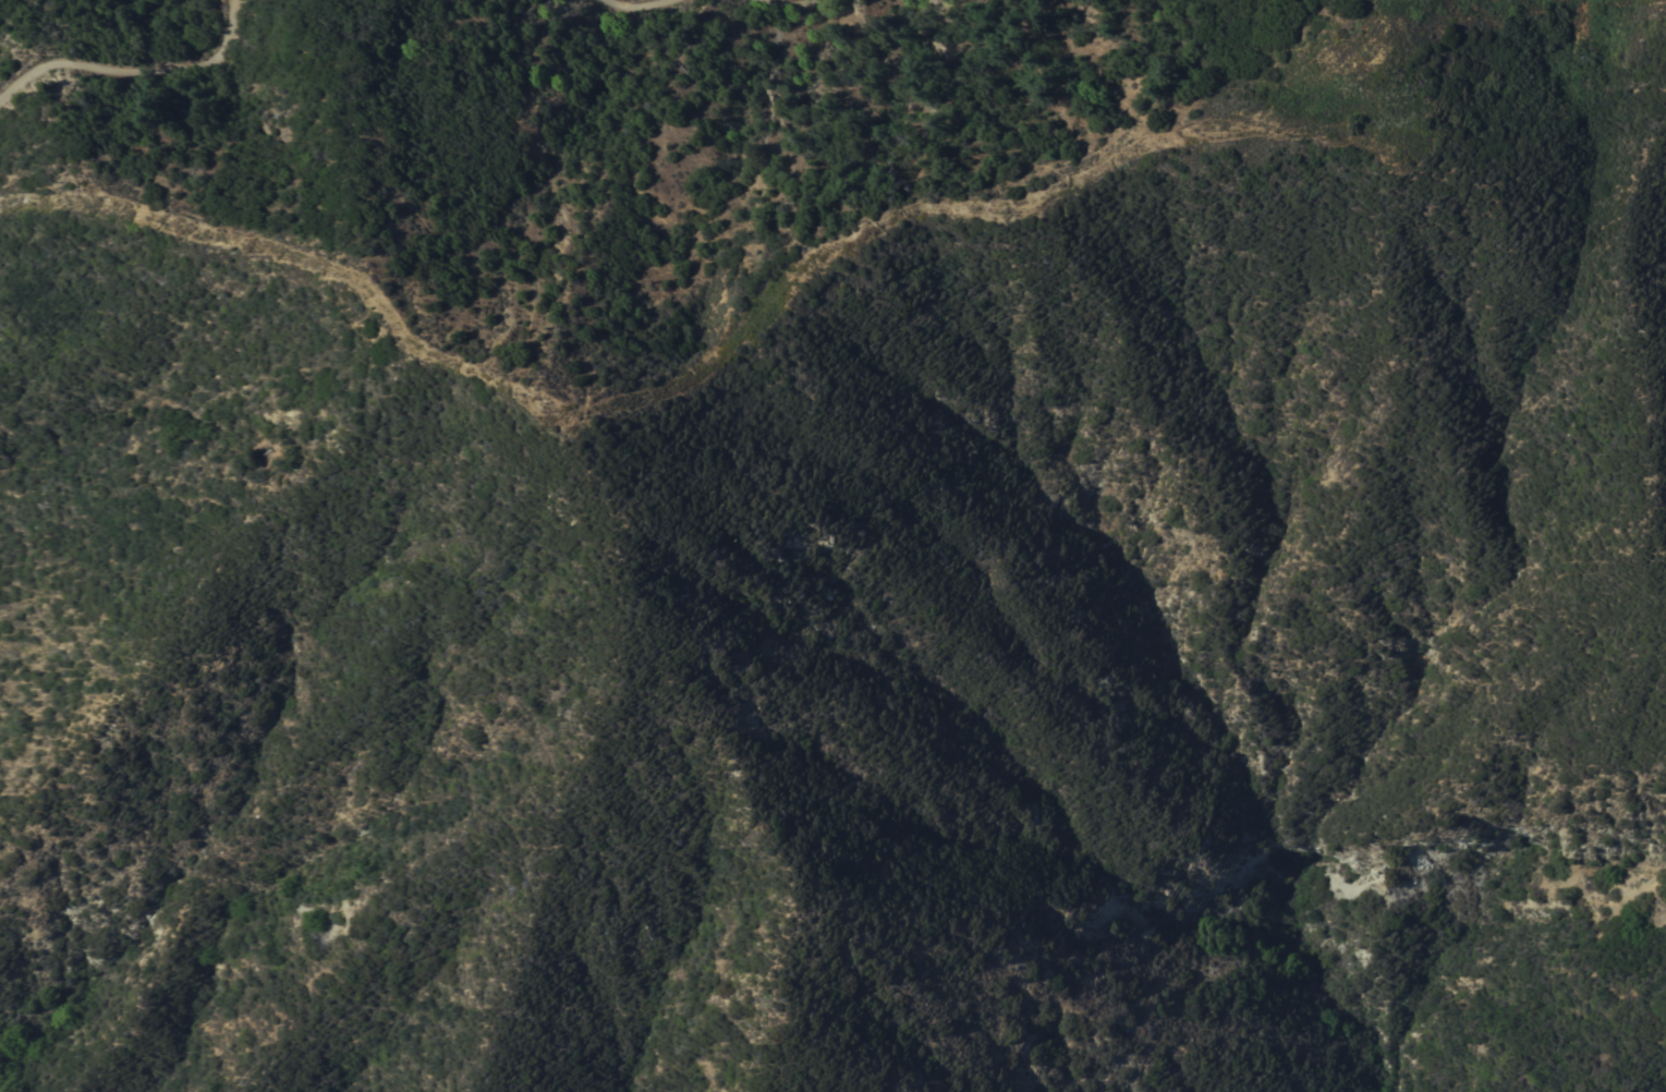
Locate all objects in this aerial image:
road: (793, 0)
road: (634, 4)
road: (130, 69)

